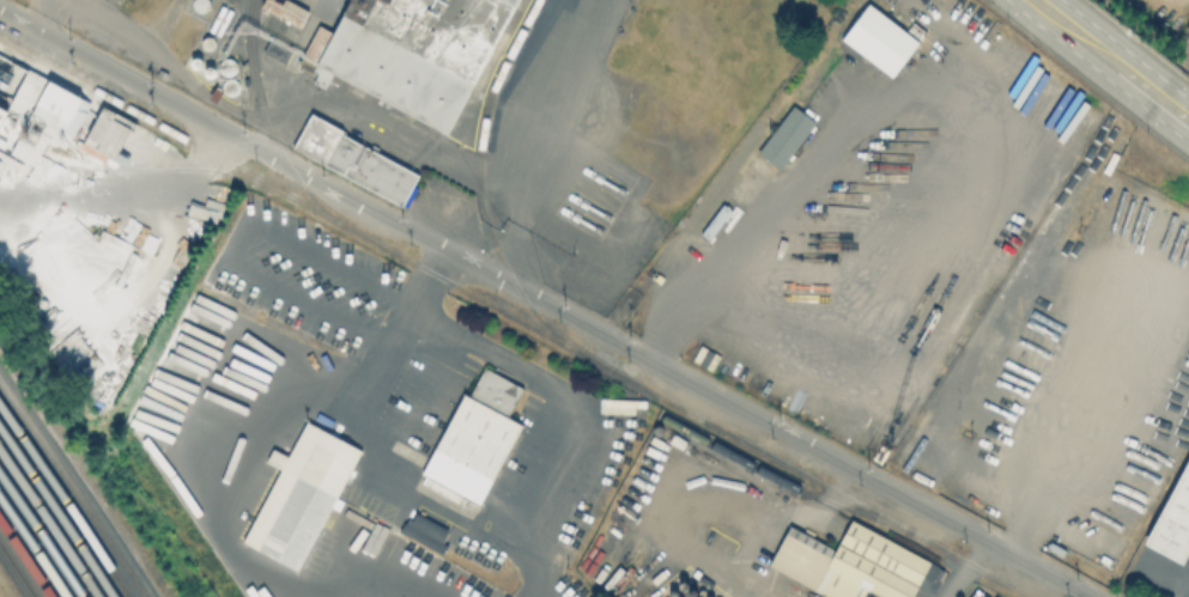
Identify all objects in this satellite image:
building: (287, 11)
road: (1138, 39)
building: (881, 43)
building: (419, 50)
building: (279, 53)
road: (1111, 60)
road: (117, 72)
road: (1086, 80)
building: (19, 90)
building: (218, 95)
building: (55, 114)
building: (4, 120)
building: (111, 138)
building: (790, 139)
railway: (278, 146)
building: (362, 163)
railway: (151, 172)
road: (122, 189)
railway: (483, 203)
road: (762, 225)
road: (259, 248)
railway: (514, 321)
road: (659, 366)
road: (353, 390)
road: (1094, 392)
building: (468, 433)
building: (866, 437)
railway: (72, 491)
road: (541, 492)
building: (295, 494)
railway: (63, 501)
road: (714, 504)
railway: (56, 513)
building: (1165, 514)
railway: (48, 525)
building: (424, 530)
railway: (40, 536)
railway: (32, 548)
railway: (23, 561)
building: (850, 566)
road: (964, 569)
railway: (16, 573)

